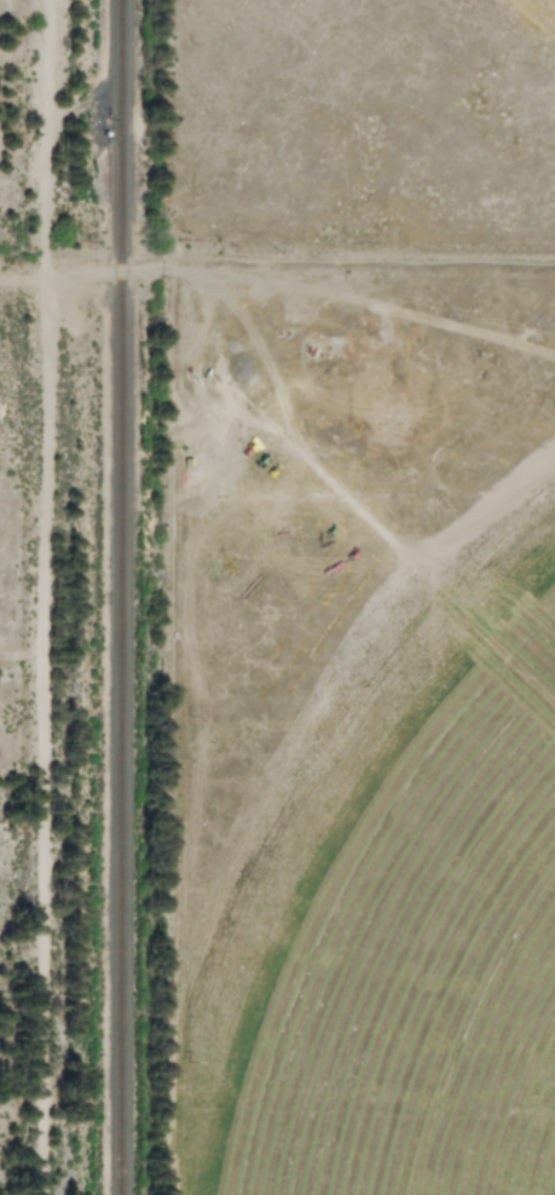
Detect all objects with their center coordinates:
crop: (543, 10)
road: (146, 274)
road: (44, 597)
railway: (115, 597)
crop: (400, 936)

